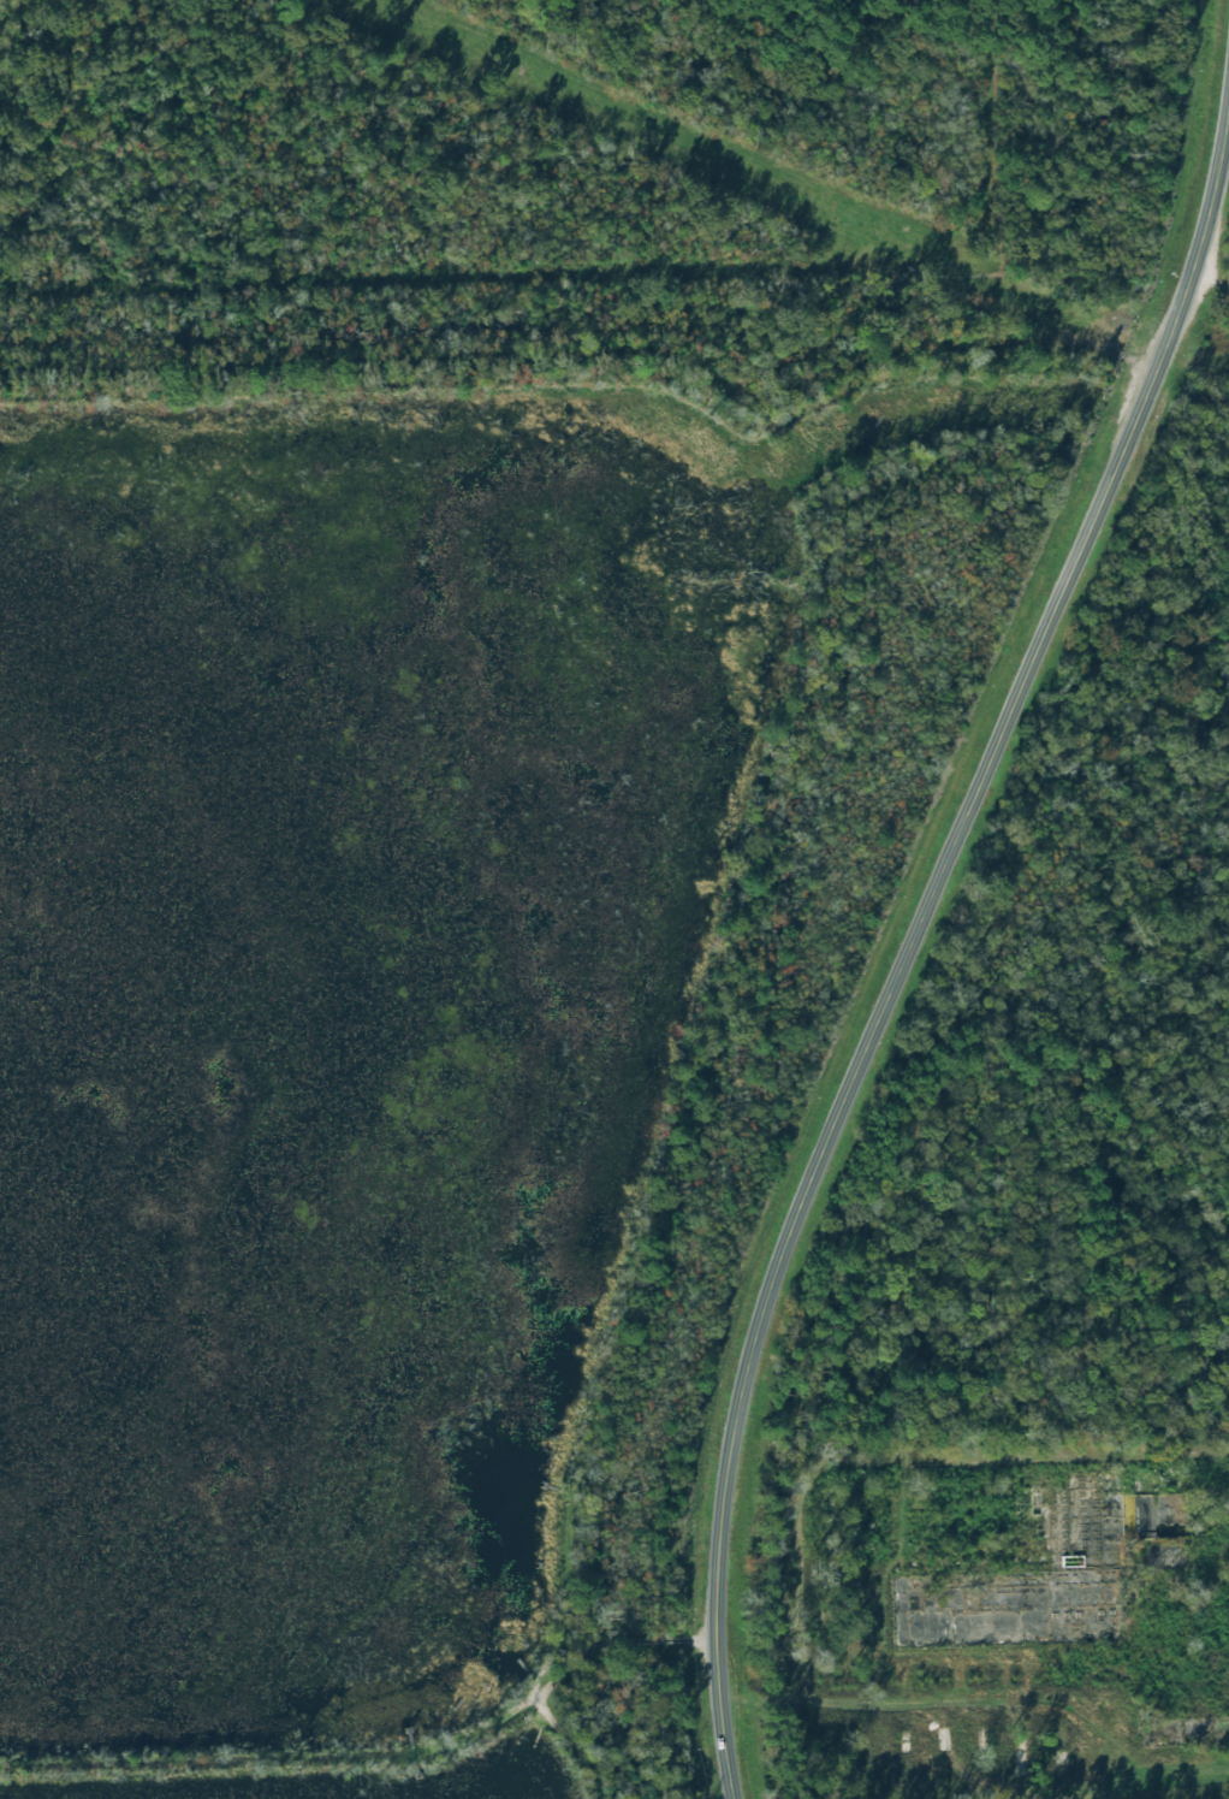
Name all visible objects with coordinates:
road: (1212, 273)
road: (913, 941)

